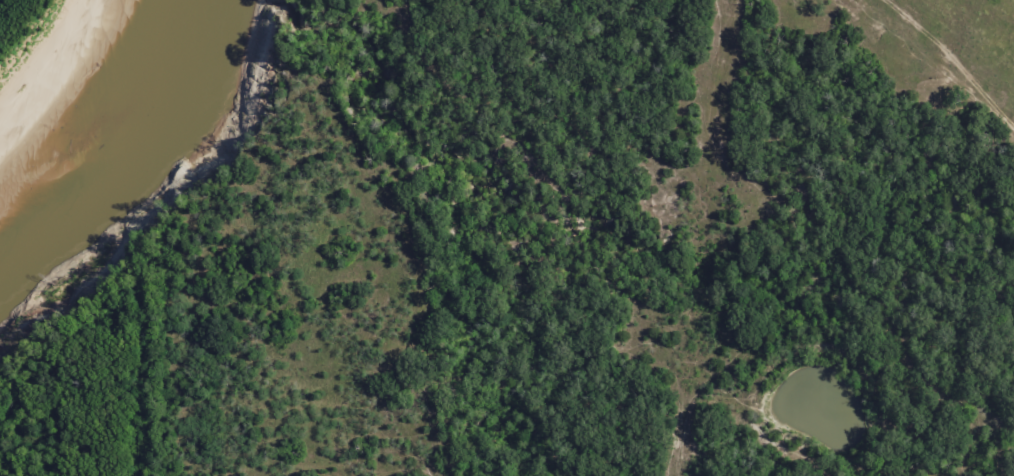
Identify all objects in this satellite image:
river: (98, 110)

